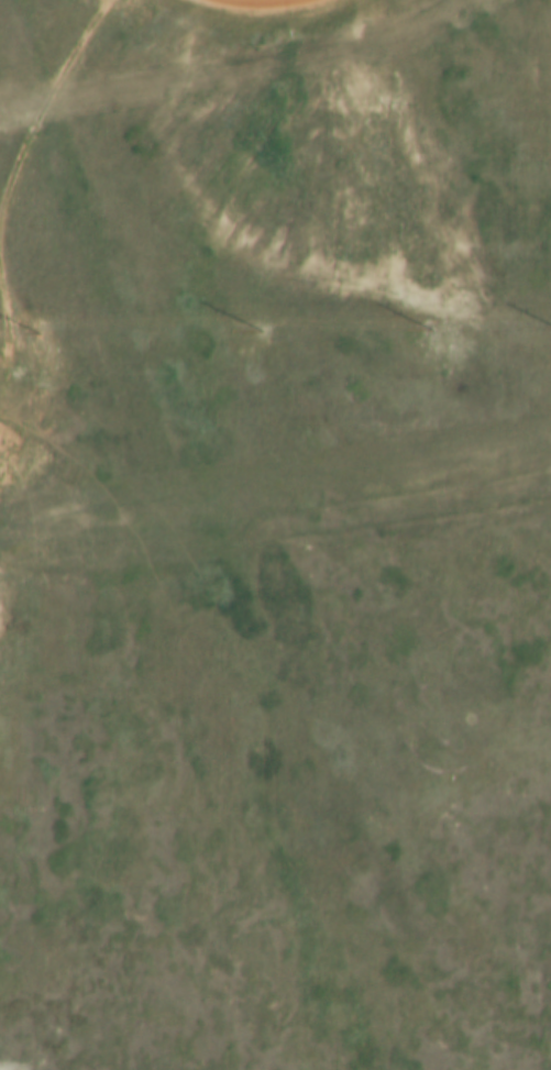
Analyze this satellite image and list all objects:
quarry: (324, 142)
quarry: (27, 446)

